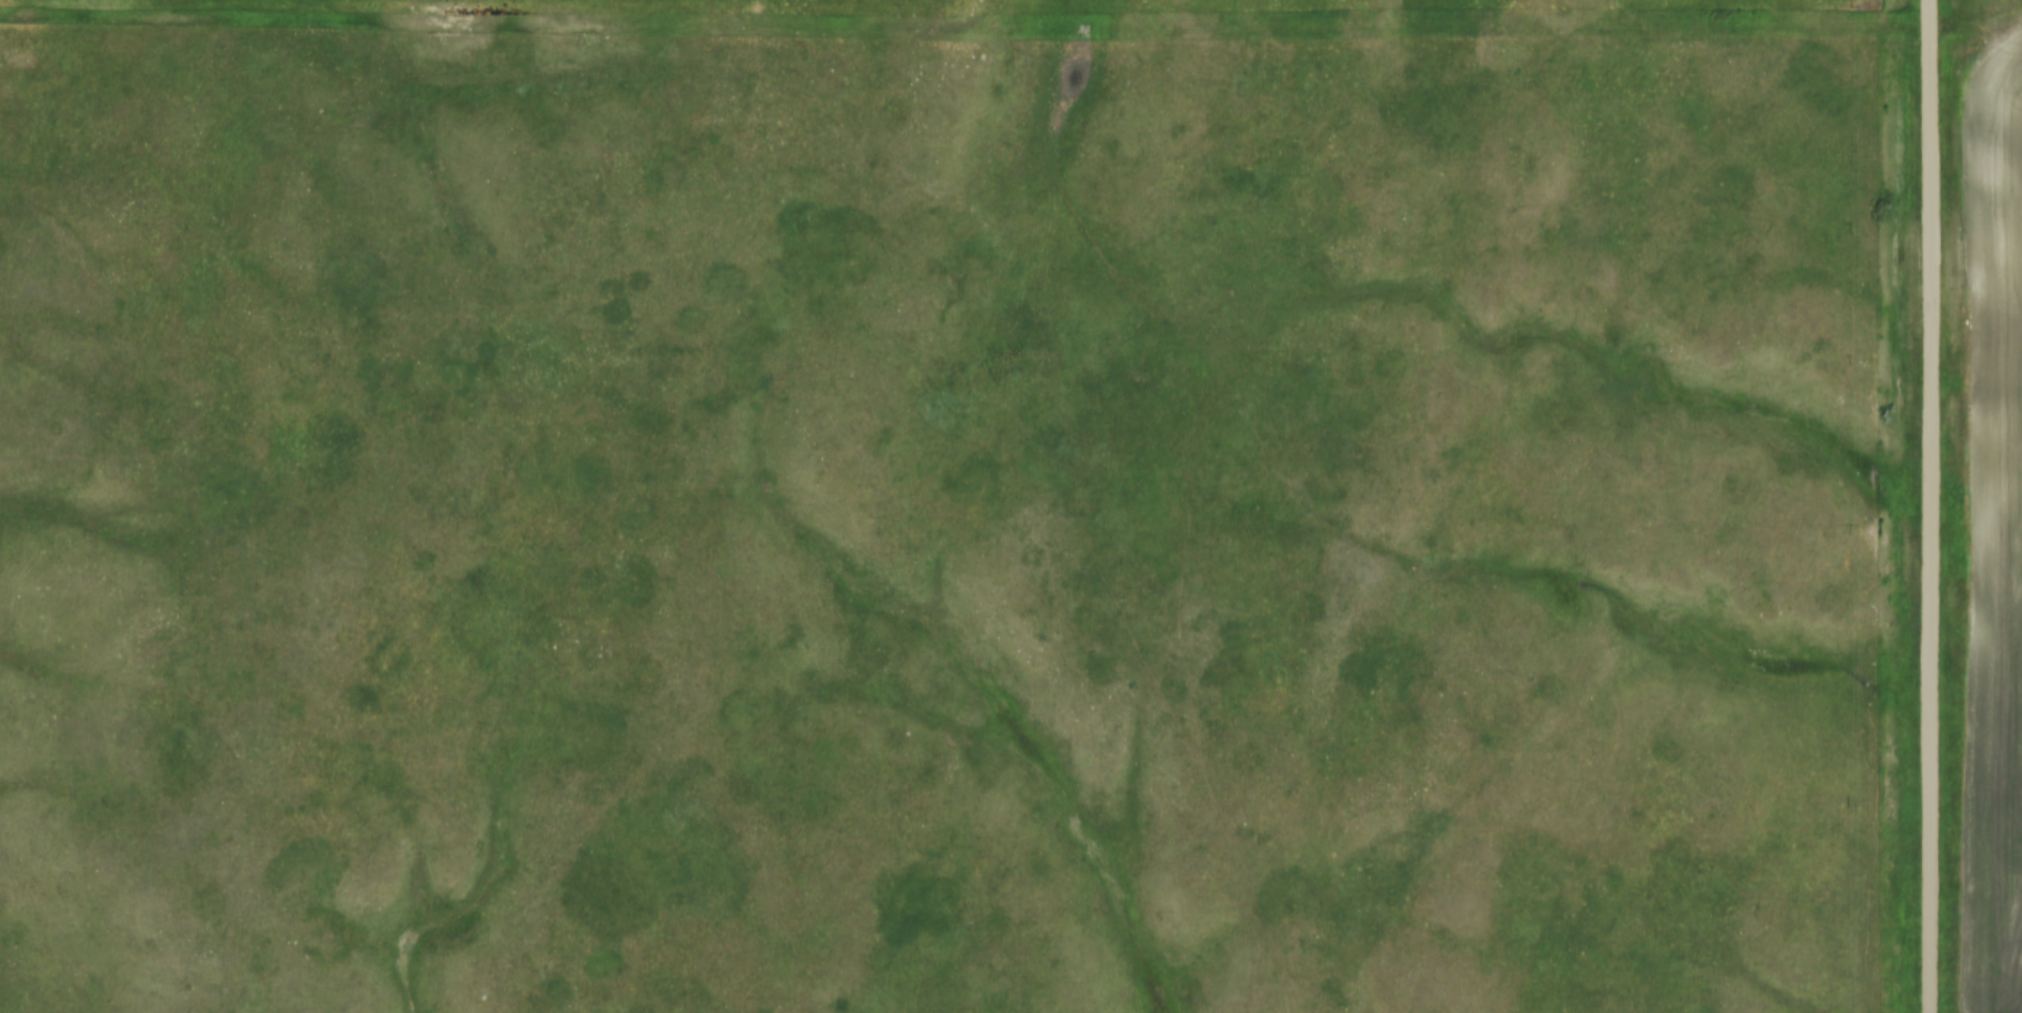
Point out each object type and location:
road: (1928, 506)

